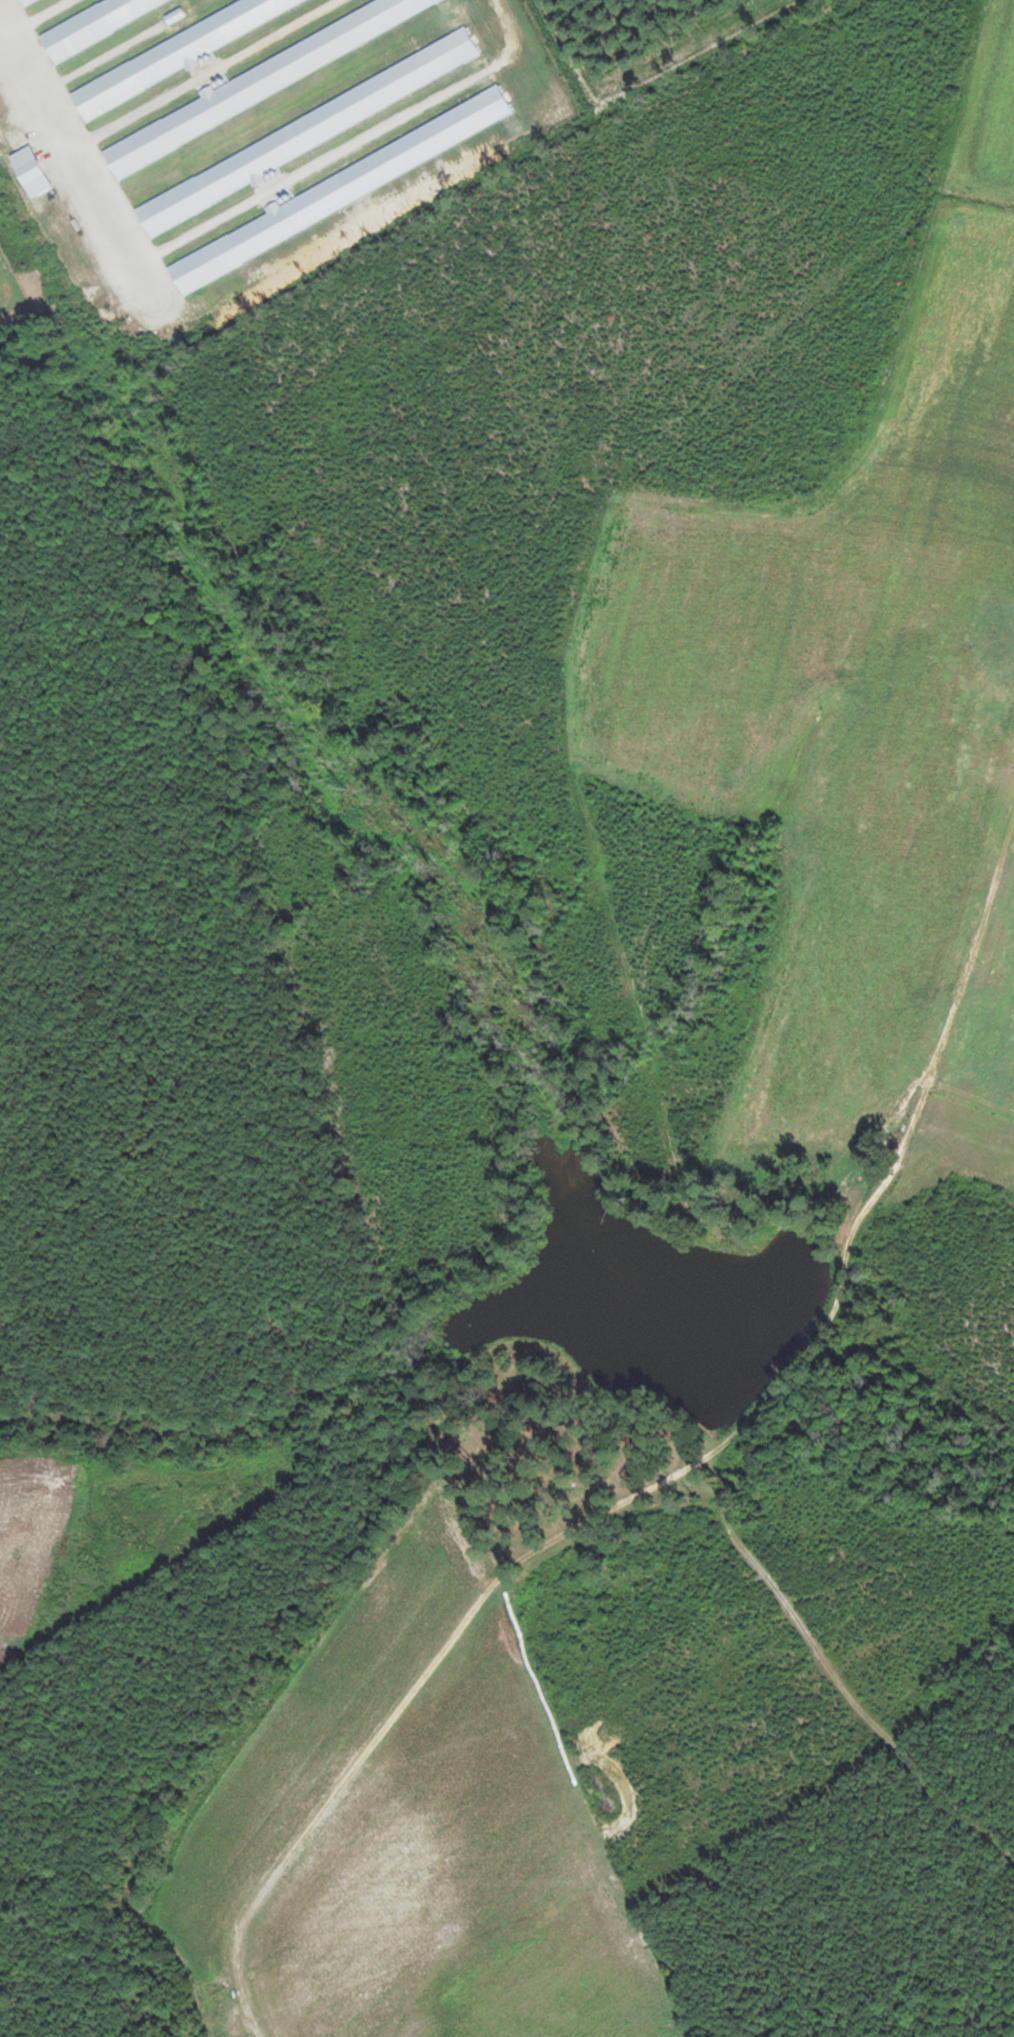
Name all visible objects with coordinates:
road: (415, 1688)

